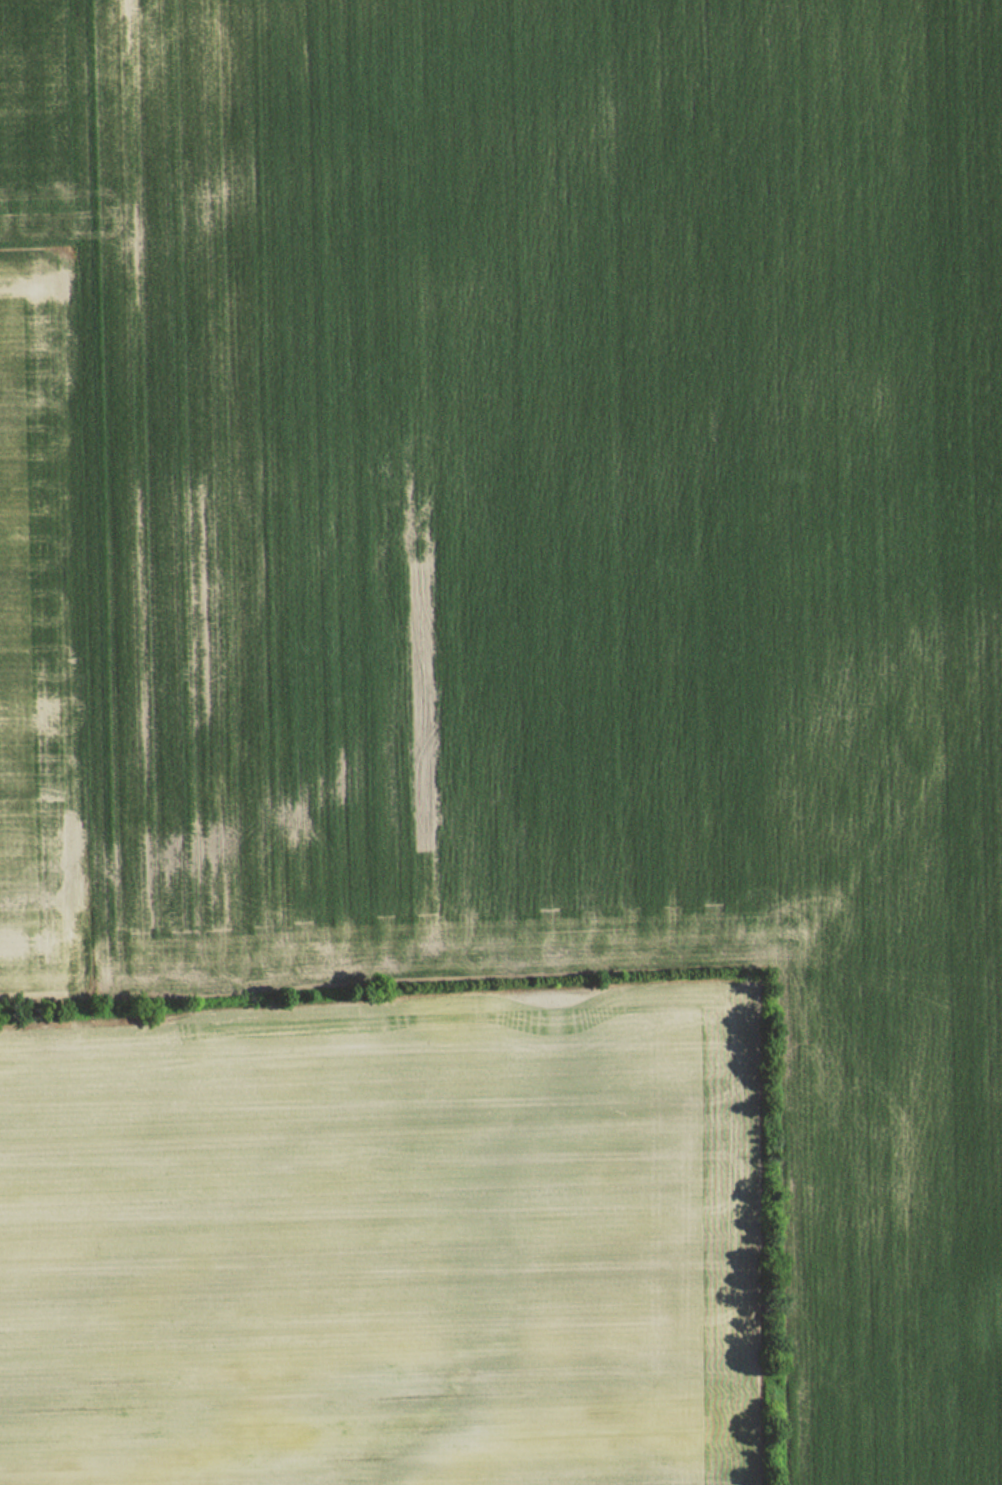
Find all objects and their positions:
crop: (497, 486)
crop: (882, 1224)
crop: (381, 1238)

